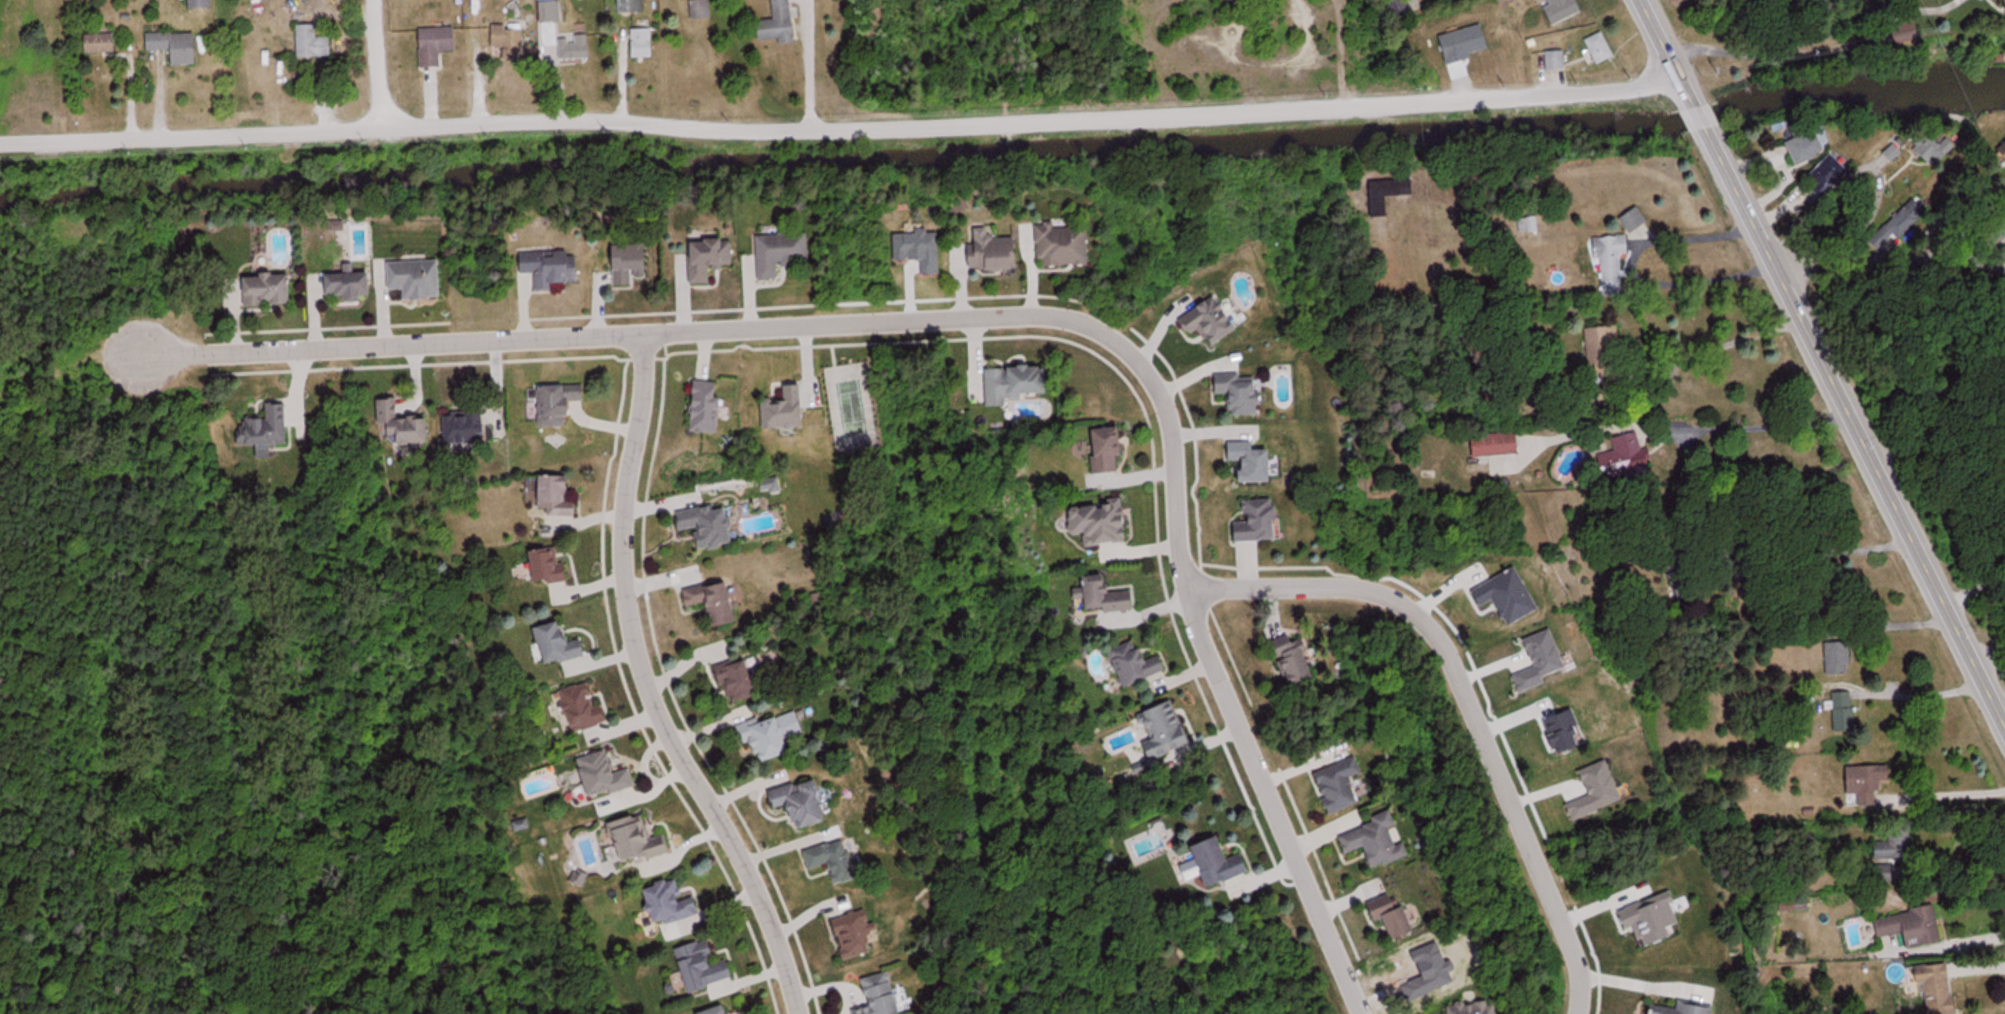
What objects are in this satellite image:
building: (203, 5)
building: (632, 7)
building: (1400, 7)
building: (2000, 10)
building: (701, 11)
building: (553, 14)
building: (779, 24)
road: (1814, 38)
building: (512, 42)
building: (102, 44)
building: (315, 44)
building: (576, 44)
building: (643, 45)
building: (438, 47)
building: (176, 48)
building: (1594, 51)
building: (1552, 62)
road: (376, 66)
road: (809, 66)
road: (839, 130)
building: (1799, 149)
building: (1926, 153)
building: (1822, 176)
building: (1382, 194)
building: (1630, 221)
building: (1523, 227)
building: (1066, 247)
building: (996, 253)
building: (784, 255)
building: (713, 261)
road: (1889, 261)
building: (1607, 263)
building: (633, 264)
building: (555, 269)
building: (420, 280)
building: (353, 288)
building: (270, 292)
building: (1216, 322)
road: (375, 342)
building: (1597, 350)
road: (1822, 362)
building: (1023, 384)
building: (1245, 394)
building: (562, 405)
building: (711, 408)
building: (791, 409)
building: (469, 427)
building: (412, 432)
building: (268, 433)
road: (1171, 437)
building: (1493, 445)
building: (1111, 452)
building: (1620, 459)
building: (1259, 463)
building: (561, 497)
building: (1263, 523)
building: (1107, 524)
building: (715, 526)
building: (554, 566)
building: (1113, 595)
building: (718, 601)
building: (564, 644)
building: (1302, 660)
building: (1835, 660)
building: (1141, 664)
road: (644, 679)
building: (745, 680)
road: (1465, 701)
building: (585, 708)
building: (1840, 713)
building: (1166, 731)
building: (770, 741)
building: (607, 776)
building: (1861, 785)
building: (1343, 786)
building: (809, 803)
building: (642, 840)
building: (1380, 842)
building: (1888, 848)
building: (837, 860)
building: (1221, 864)
building: (675, 903)
building: (1396, 916)
building: (1907, 929)
building: (858, 934)
road: (1950, 939)
building: (706, 967)
building: (1931, 988)
building: (885, 995)
building: (1477, 1009)
building: (1679, 1010)
building: (725, 1011)
building: (743, 1013)

